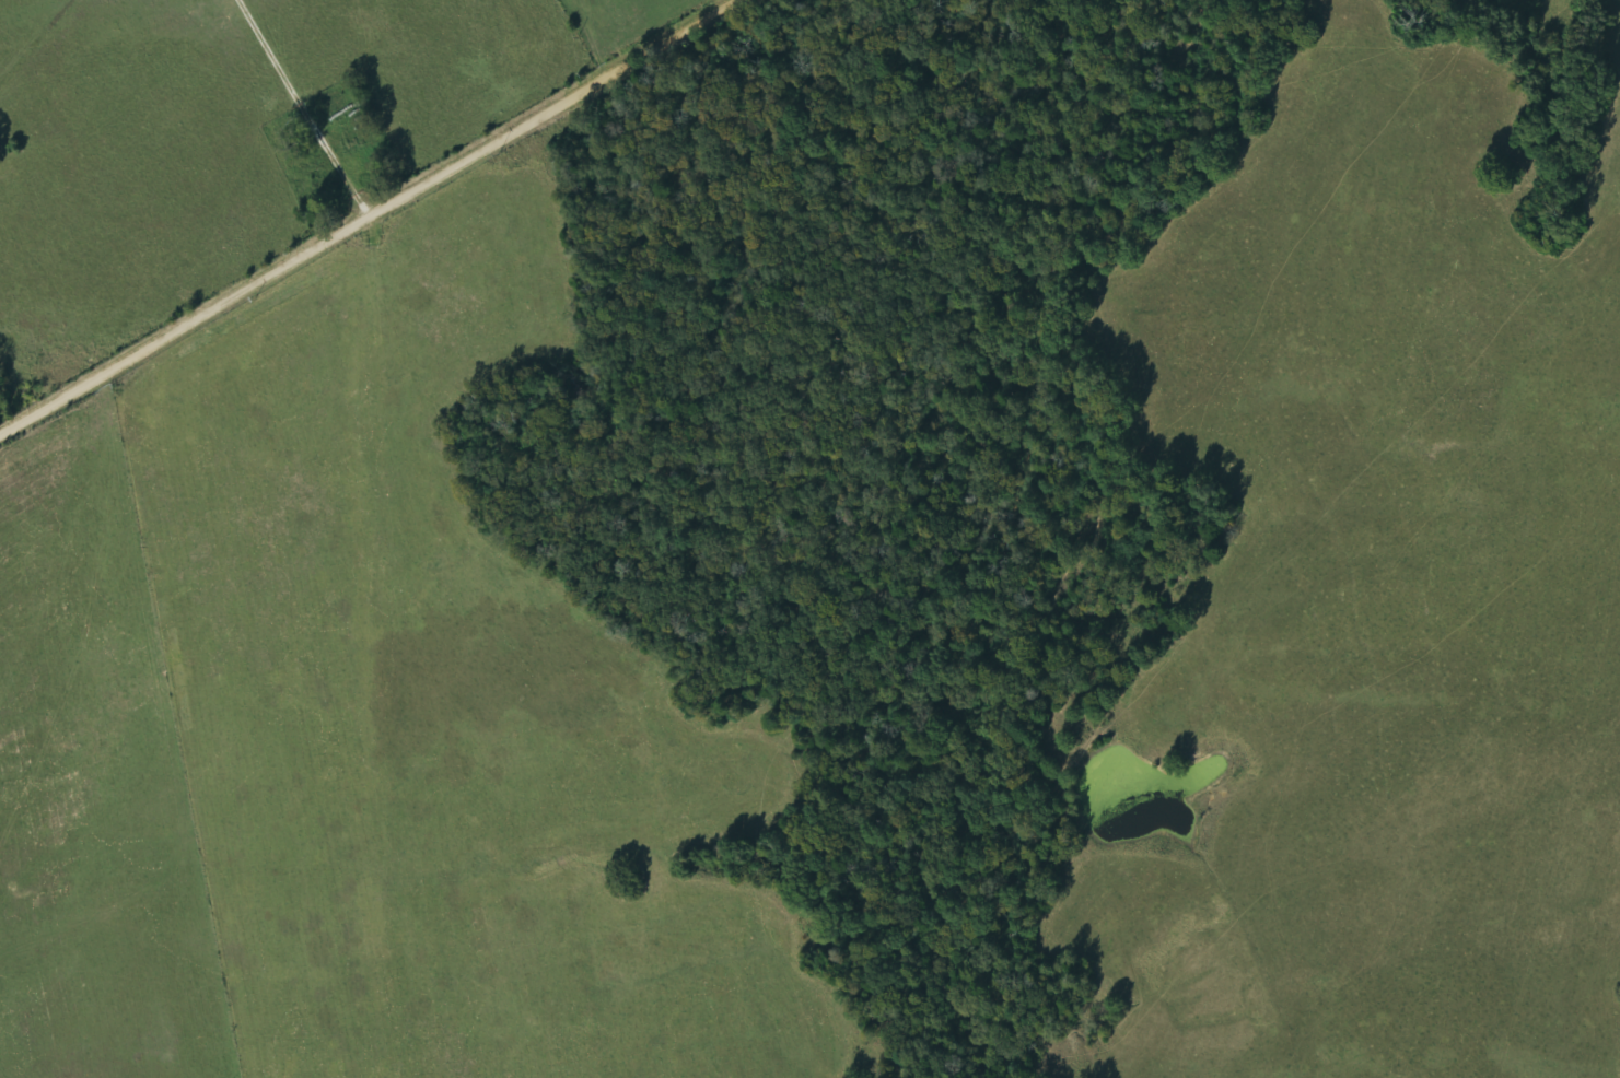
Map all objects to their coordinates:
road: (369, 212)

